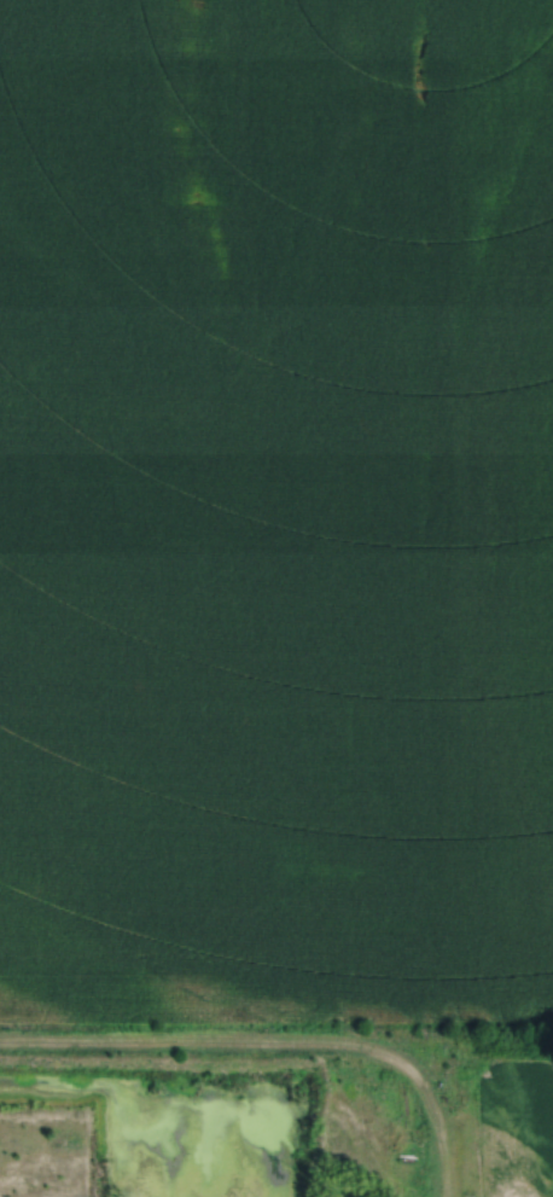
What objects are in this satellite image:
road: (276, 1041)
building: (476, 1176)

